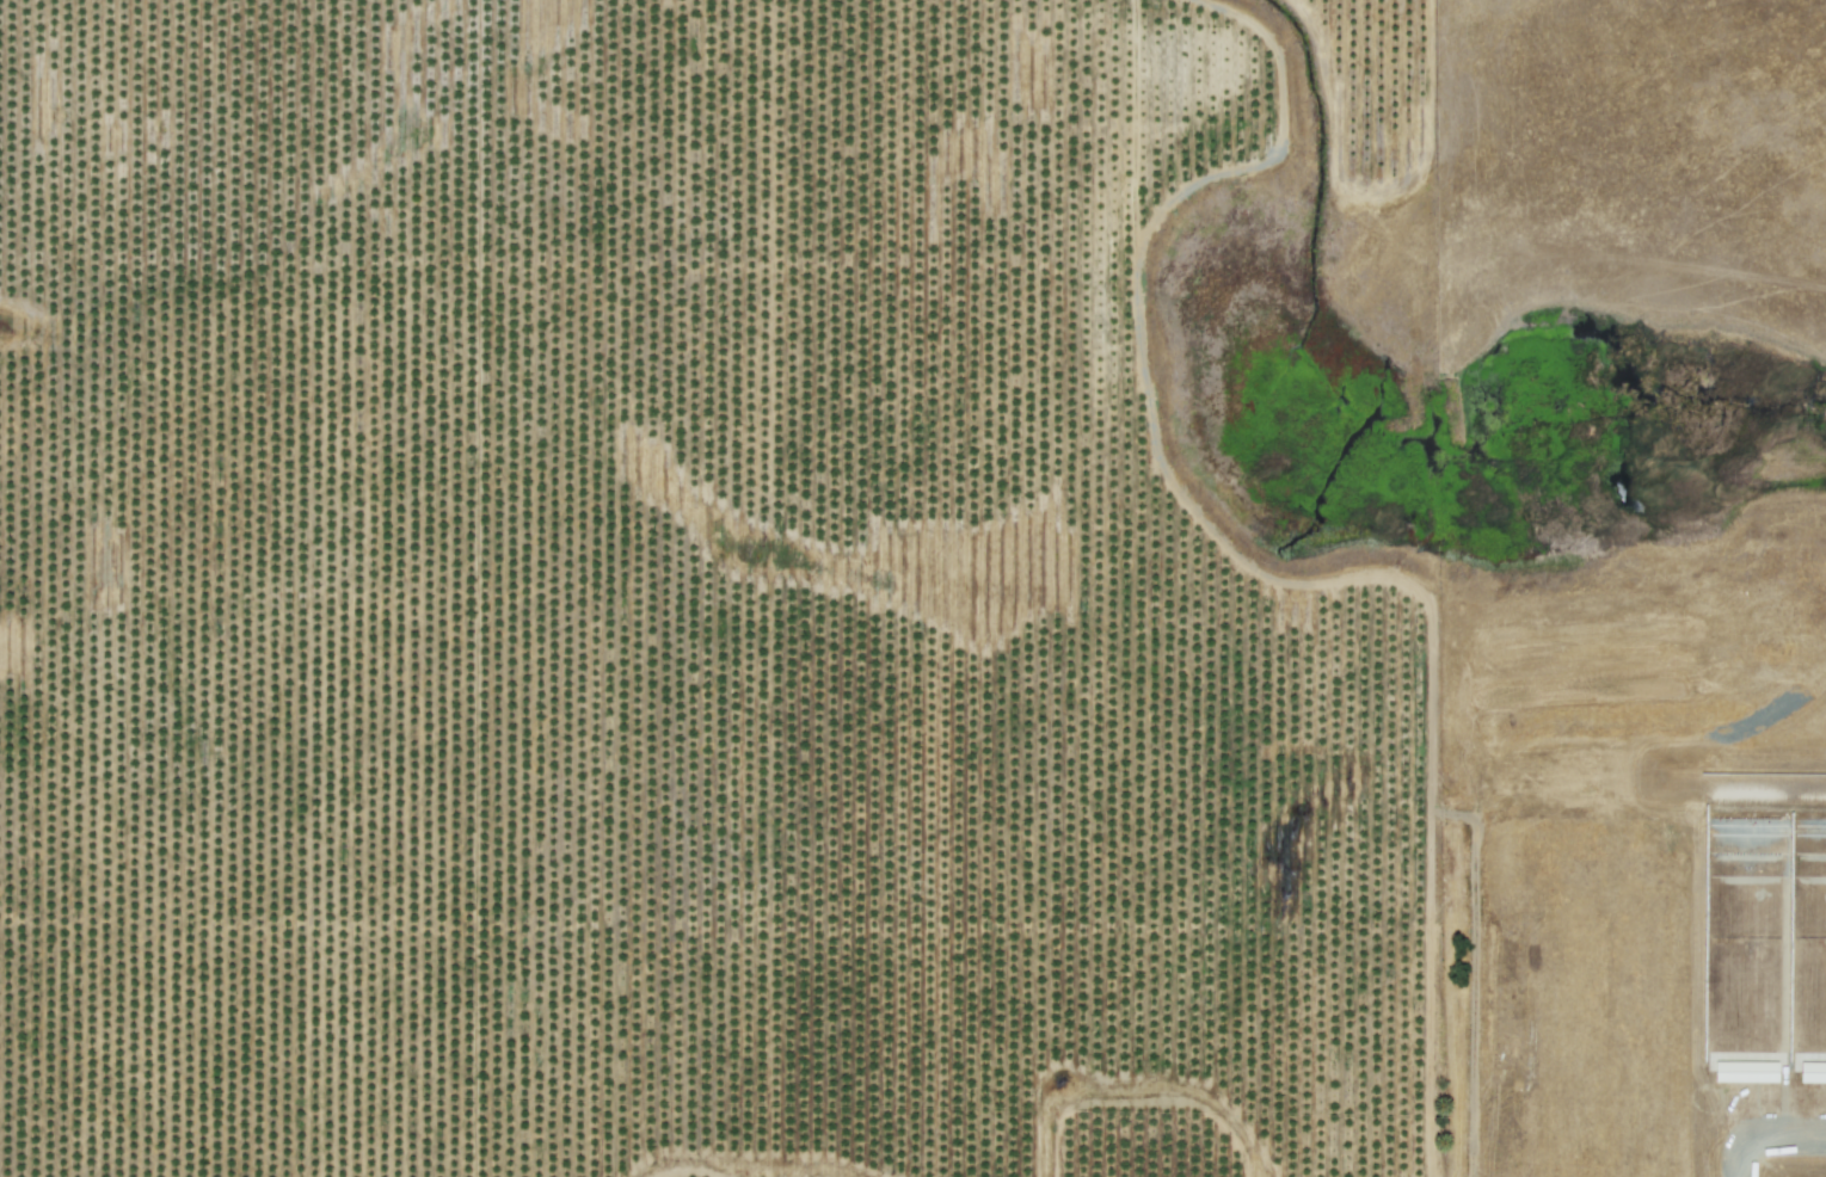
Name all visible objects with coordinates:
road: (1655, 809)
road: (1471, 997)
building: (1724, 1070)
building: (1760, 1071)
road: (1766, 1134)

